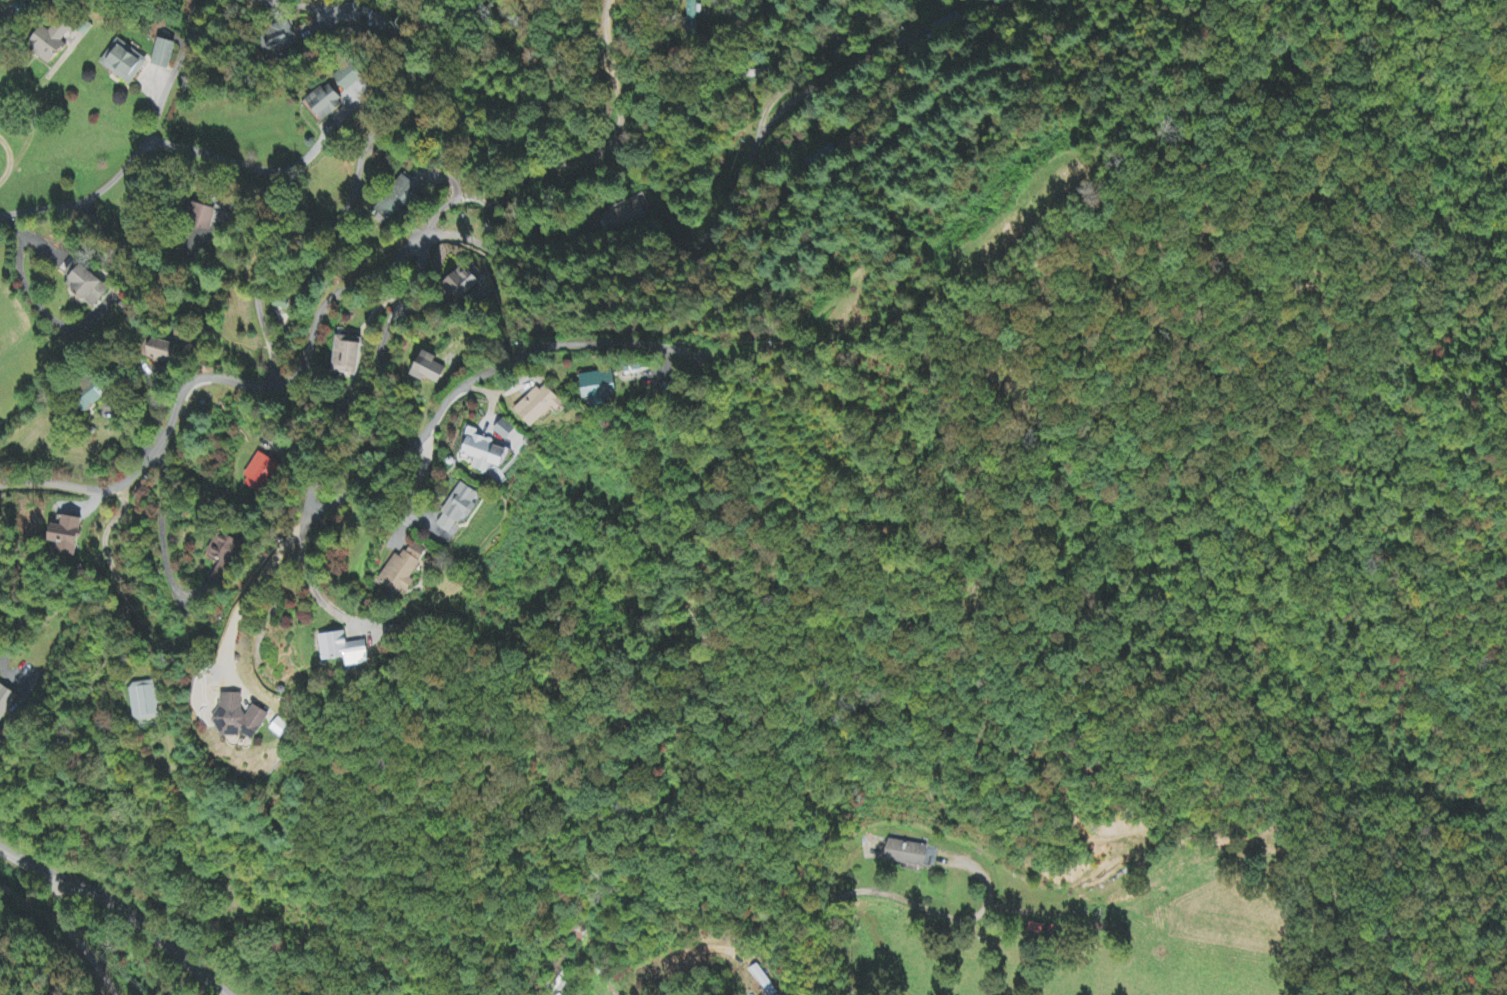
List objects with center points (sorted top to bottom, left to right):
building: (1, 3)
building: (353, 10)
road: (899, 18)
building: (283, 38)
building: (55, 43)
road: (609, 45)
building: (166, 54)
building: (127, 62)
building: (350, 77)
building: (328, 102)
road: (526, 147)
road: (93, 162)
building: (398, 200)
building: (203, 213)
road: (888, 214)
building: (622, 217)
road: (284, 241)
building: (463, 284)
building: (94, 289)
building: (168, 351)
building: (347, 356)
road: (296, 371)
building: (431, 371)
building: (601, 385)
building: (101, 390)
road: (1288, 395)
building: (542, 406)
building: (508, 431)
road: (663, 435)
building: (490, 454)
building: (259, 474)
building: (466, 508)
building: (66, 537)
building: (222, 555)
building: (412, 571)
building: (353, 651)
building: (5, 702)
building: (145, 702)
building: (241, 718)
building: (280, 729)
building: (901, 854)
building: (928, 860)
road: (804, 901)
road: (116, 913)
building: (763, 981)

